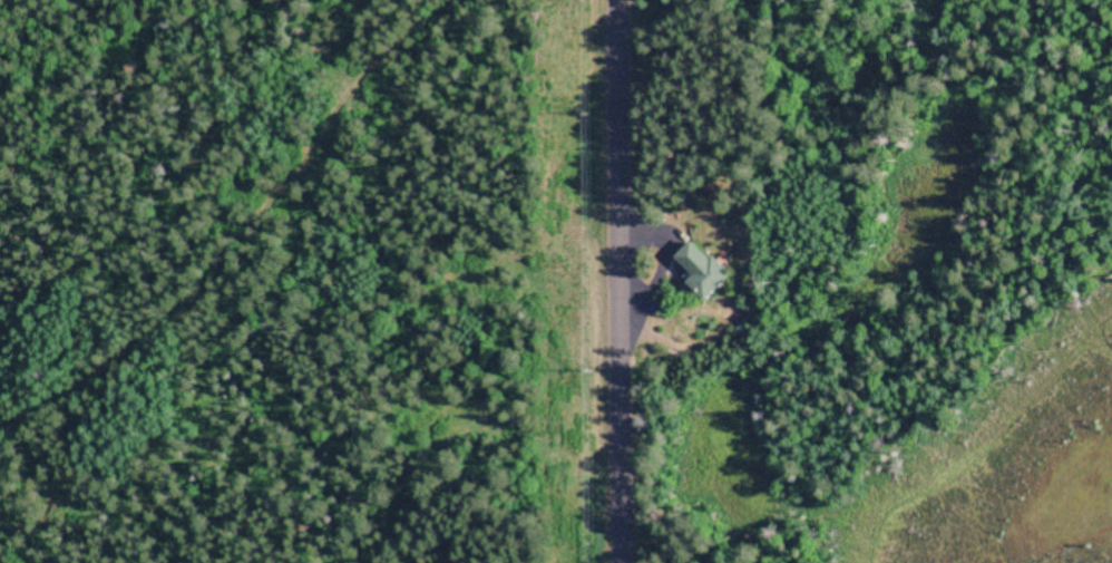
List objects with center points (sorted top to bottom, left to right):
road: (221, 220)
building: (706, 271)
road: (589, 281)

